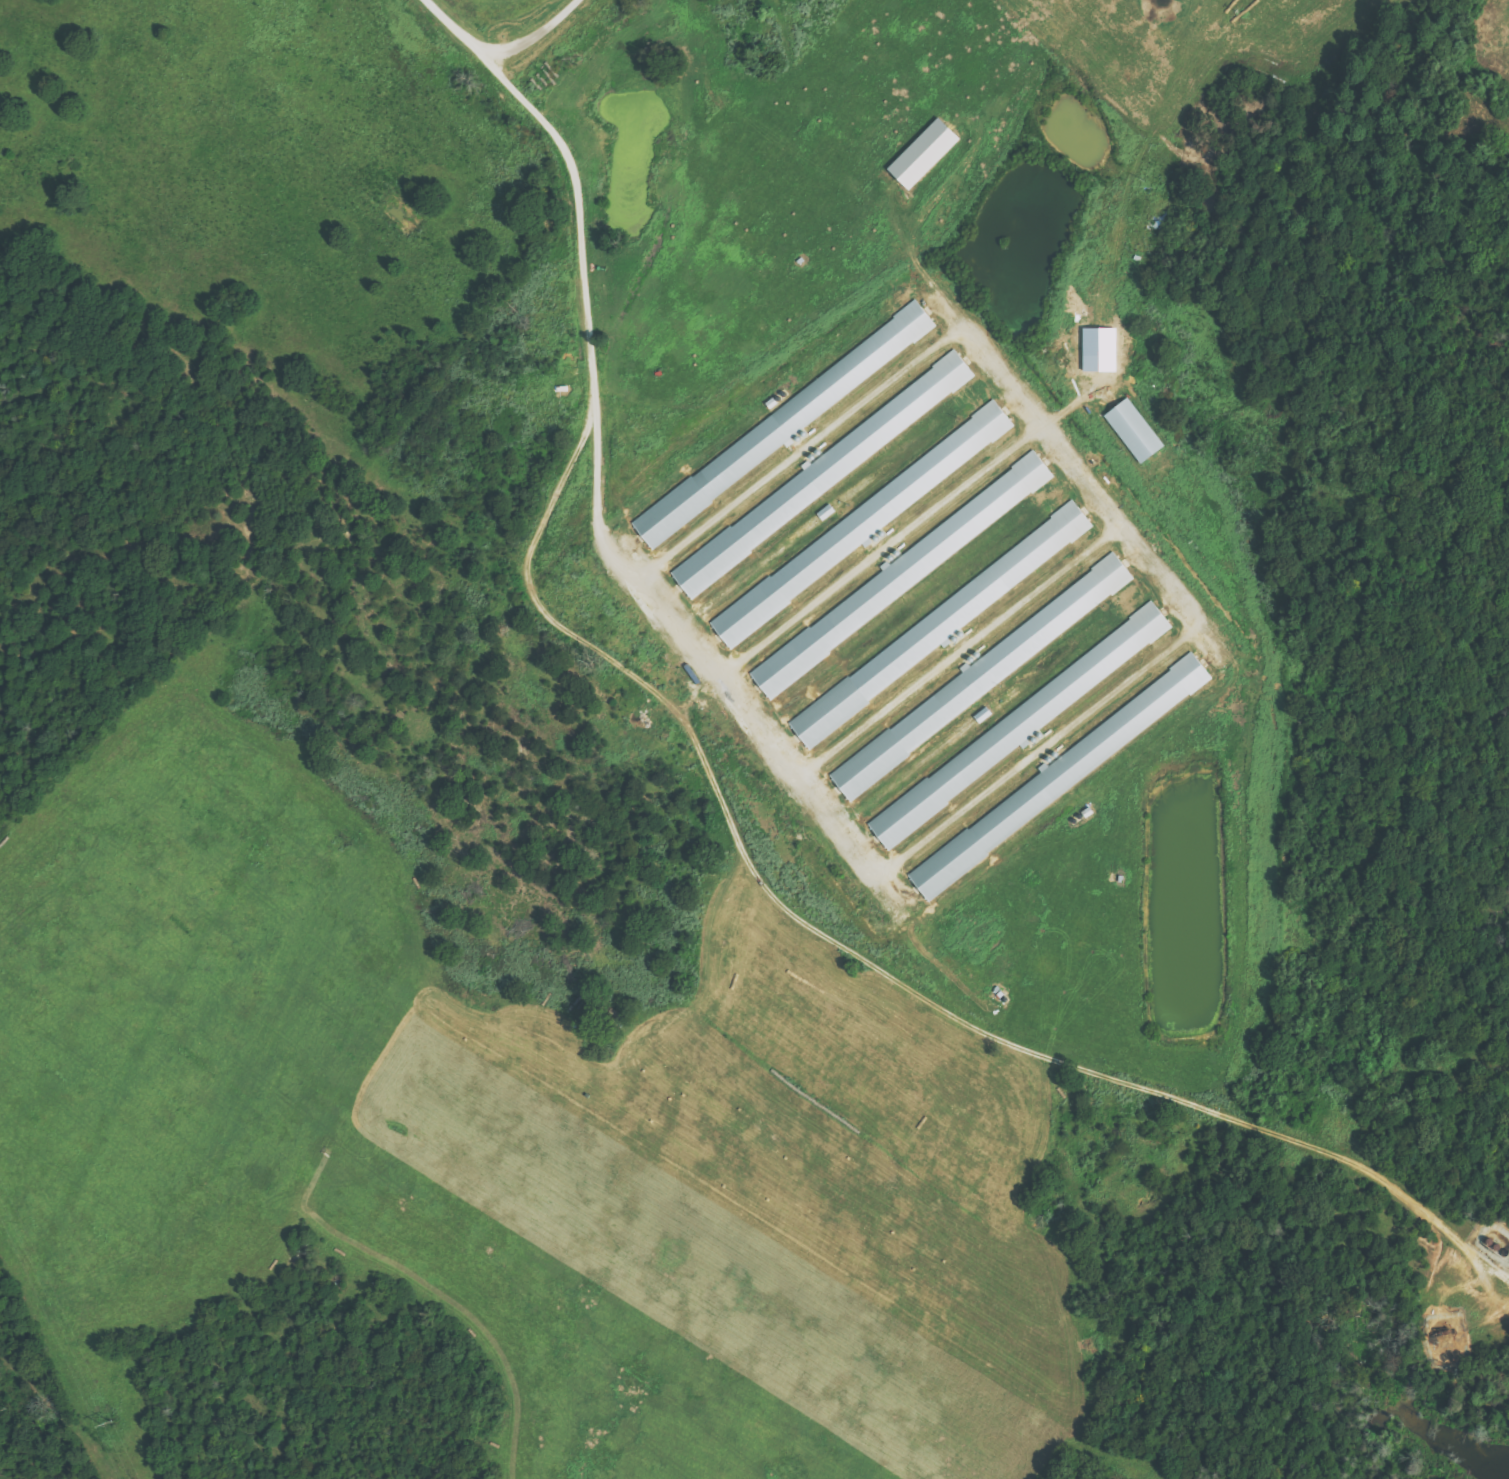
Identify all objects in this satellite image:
building: (921, 154)
building: (1132, 430)
building: (772, 432)
road: (596, 464)
building: (828, 468)
building: (825, 512)
building: (860, 524)
building: (912, 566)
building: (939, 624)
building: (989, 670)
building: (981, 715)
building: (1025, 720)
building: (1058, 776)

